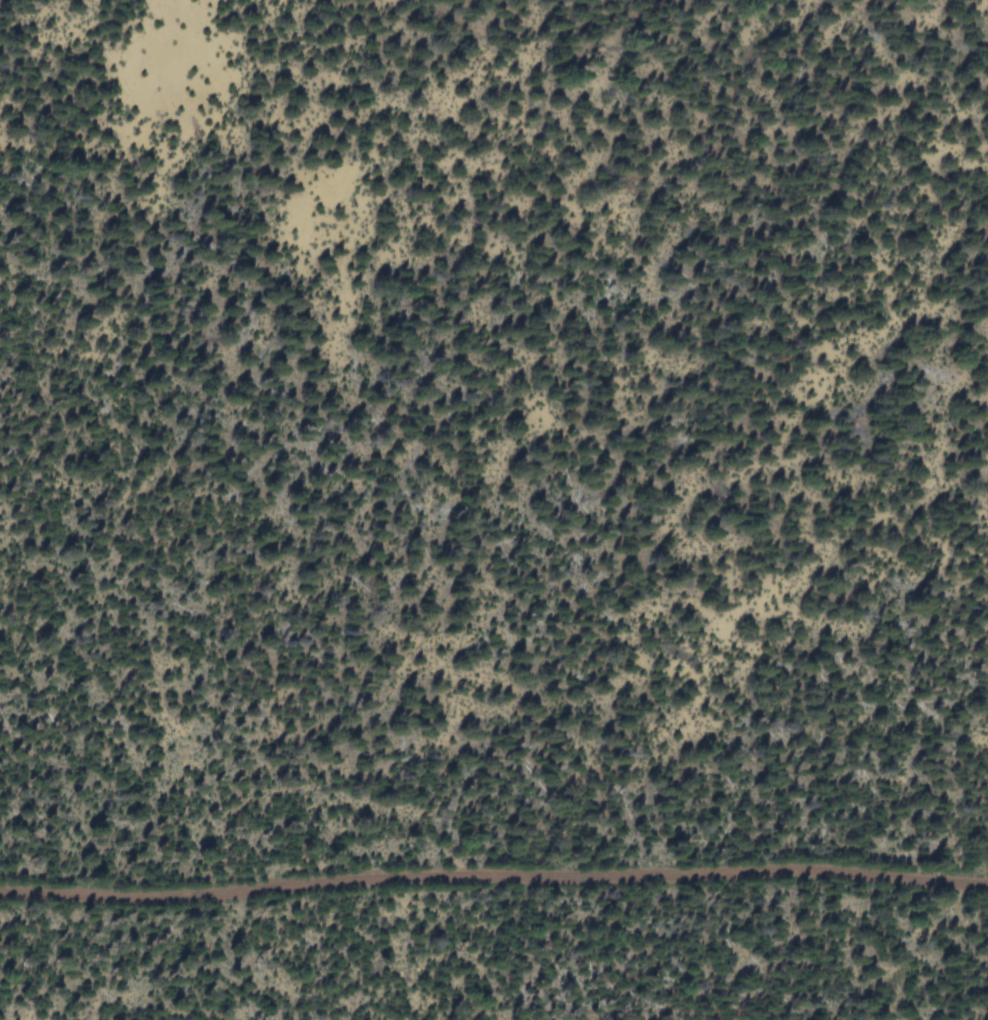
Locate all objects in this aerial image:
road: (493, 881)
road: (916, 948)

